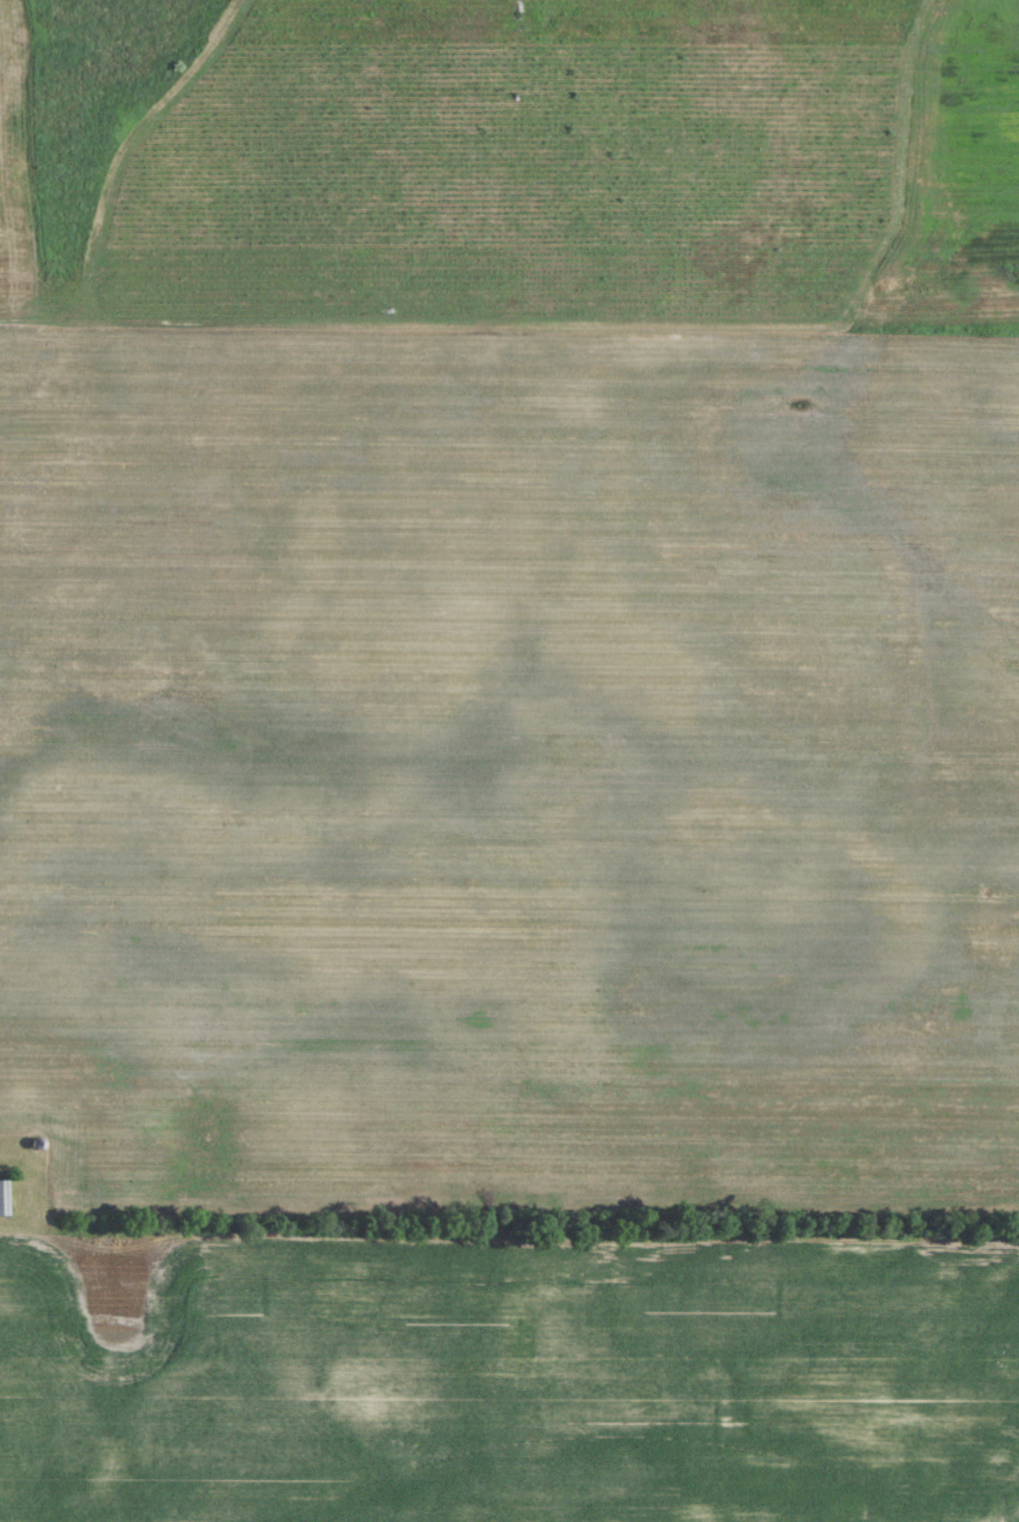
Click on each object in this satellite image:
building: (4, 1196)

